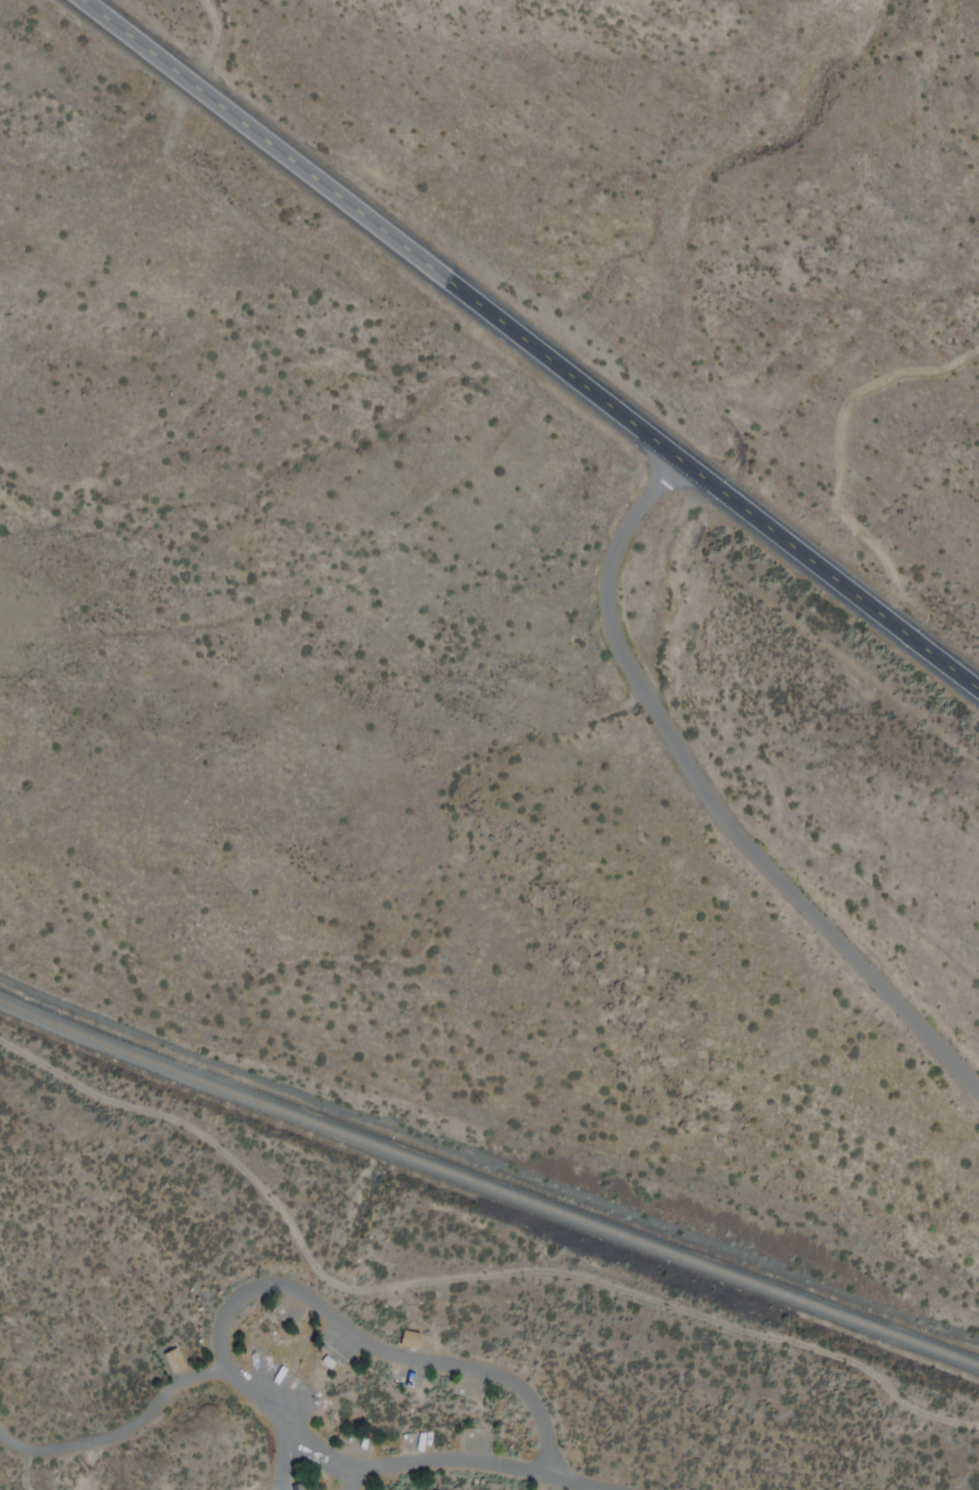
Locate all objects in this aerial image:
road: (537, 341)
road: (708, 803)
railway: (488, 1186)
road: (461, 1275)
building: (407, 1338)
road: (374, 1347)
building: (172, 1360)
road: (296, 1428)
road: (280, 1454)
road: (349, 1477)
road: (278, 1488)

